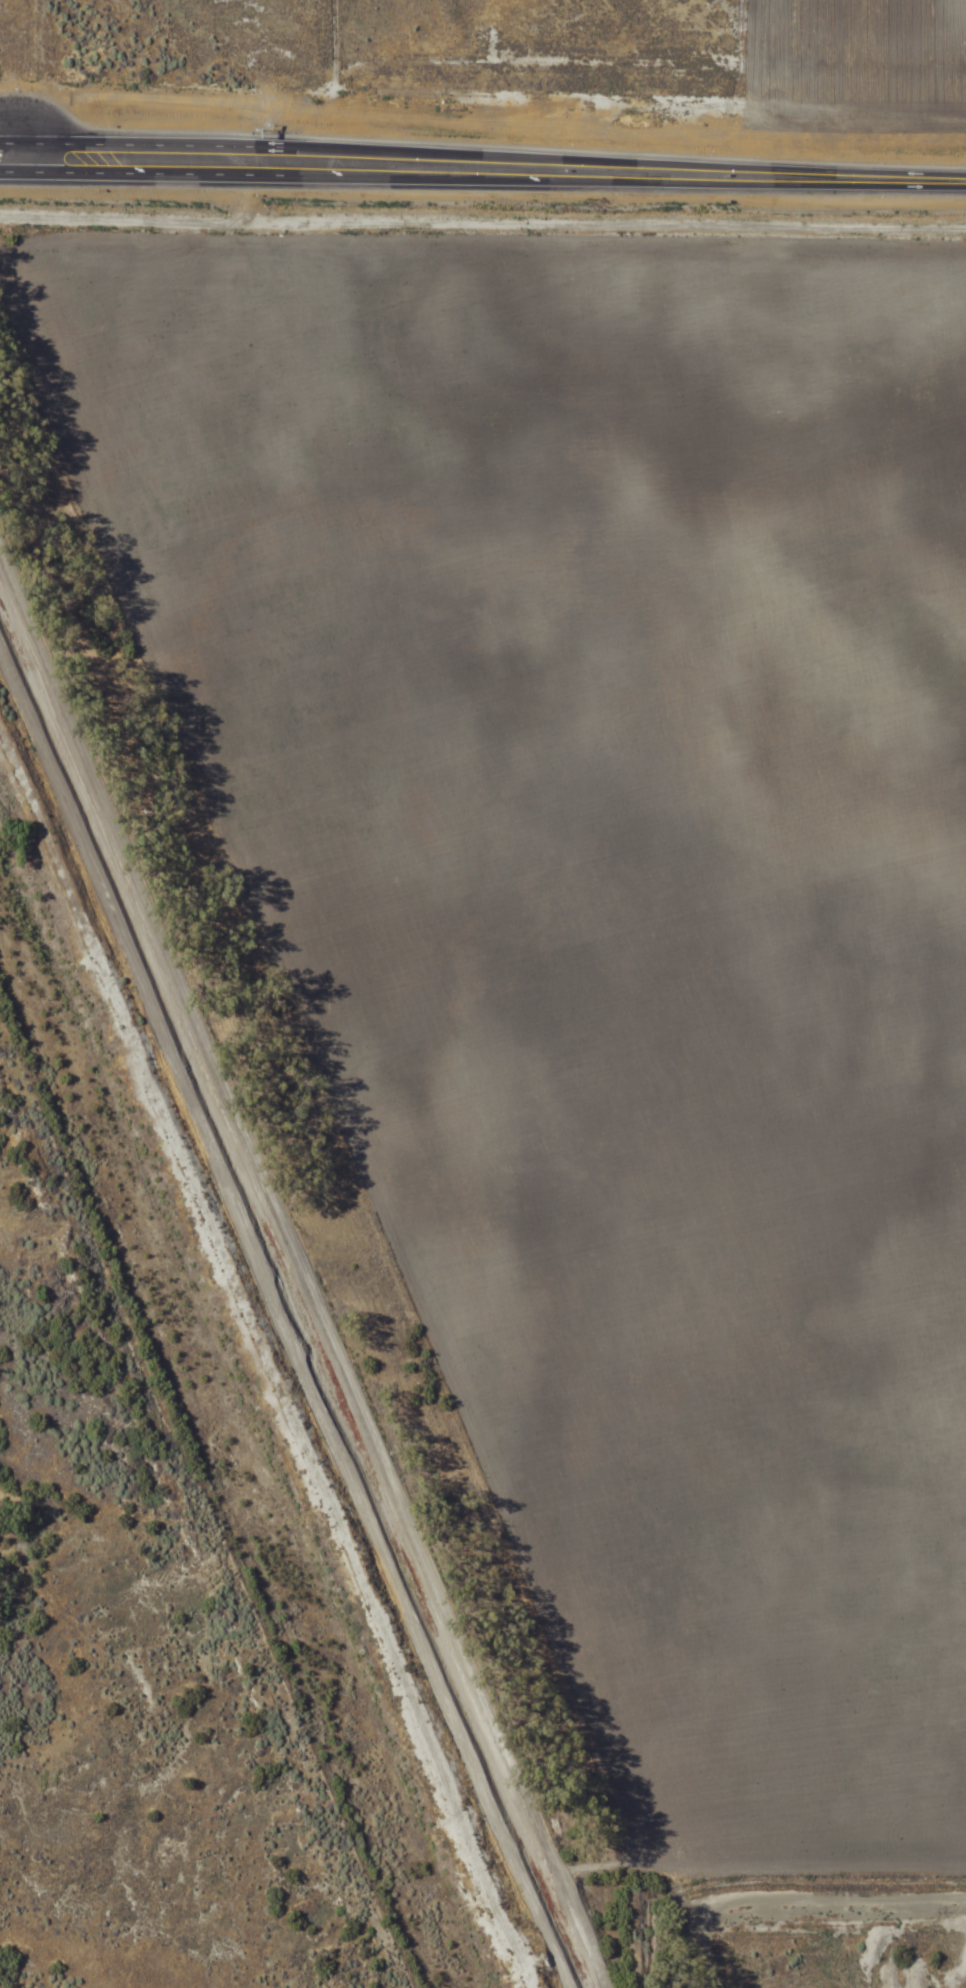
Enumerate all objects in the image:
road: (257, 155)
road: (98, 175)
road: (355, 177)
road: (739, 181)
crop: (482, 1110)
road: (302, 1293)

